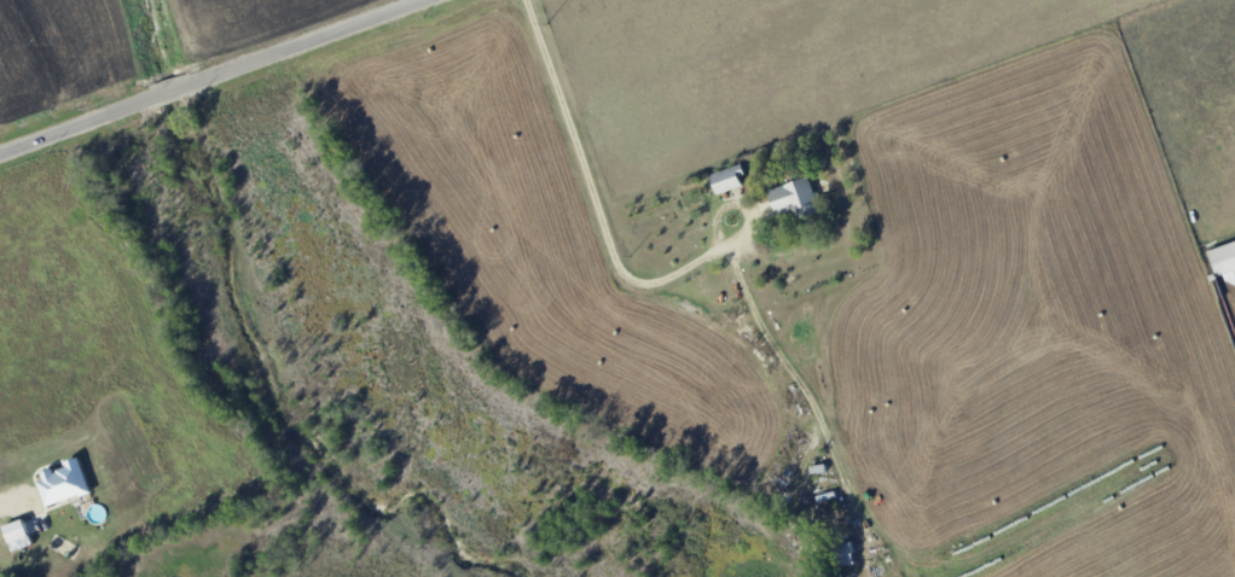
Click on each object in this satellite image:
road: (210, 76)
building: (726, 179)
building: (792, 197)
road: (597, 204)
building: (1224, 261)
building: (64, 482)
building: (16, 531)

